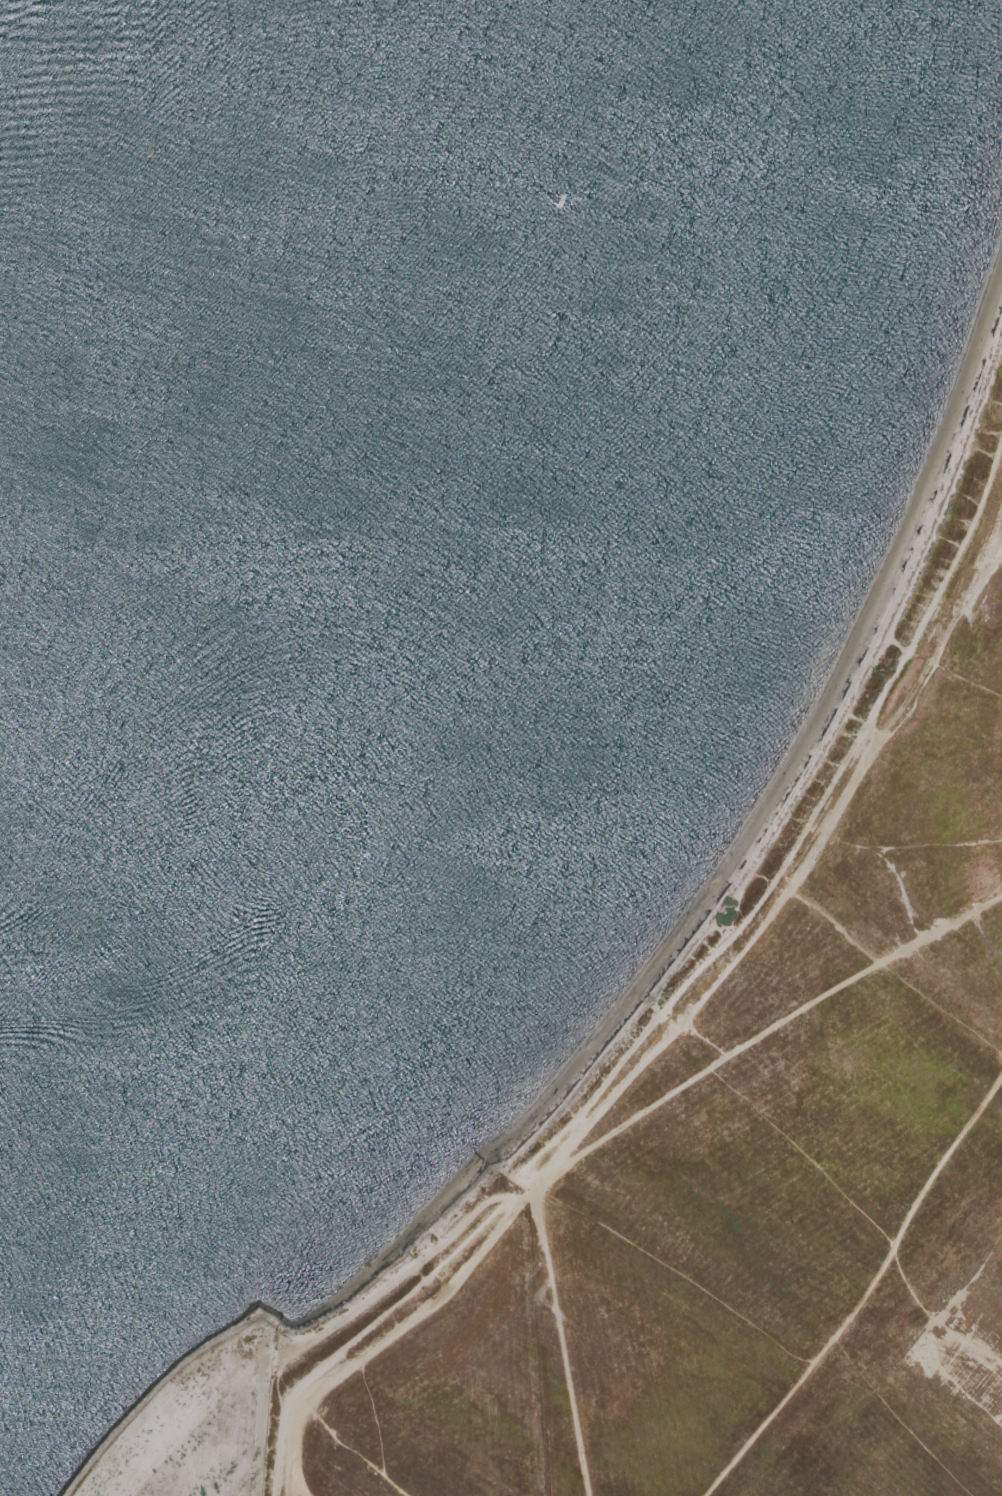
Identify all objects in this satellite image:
road: (941, 636)
road: (857, 848)
road: (867, 957)
road: (706, 965)
road: (765, 1034)
road: (663, 1039)
park: (713, 1167)
road: (866, 1295)

